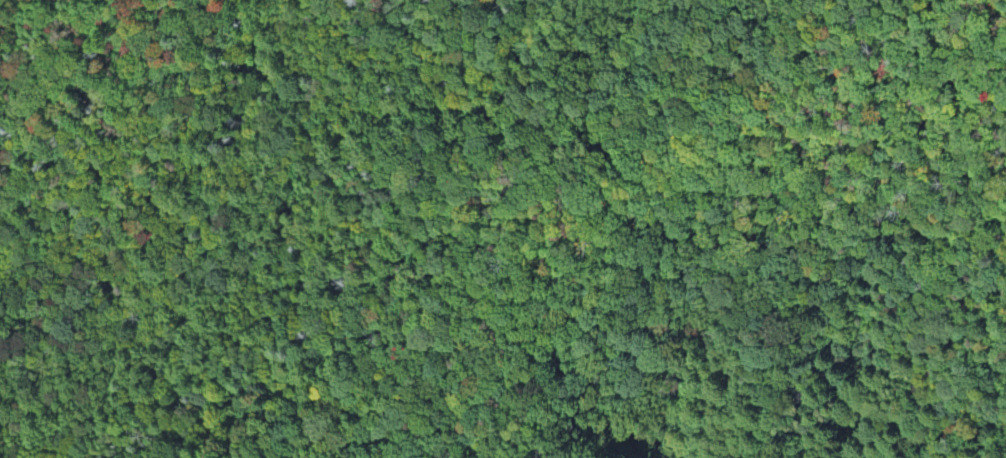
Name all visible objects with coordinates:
road: (952, 5)

